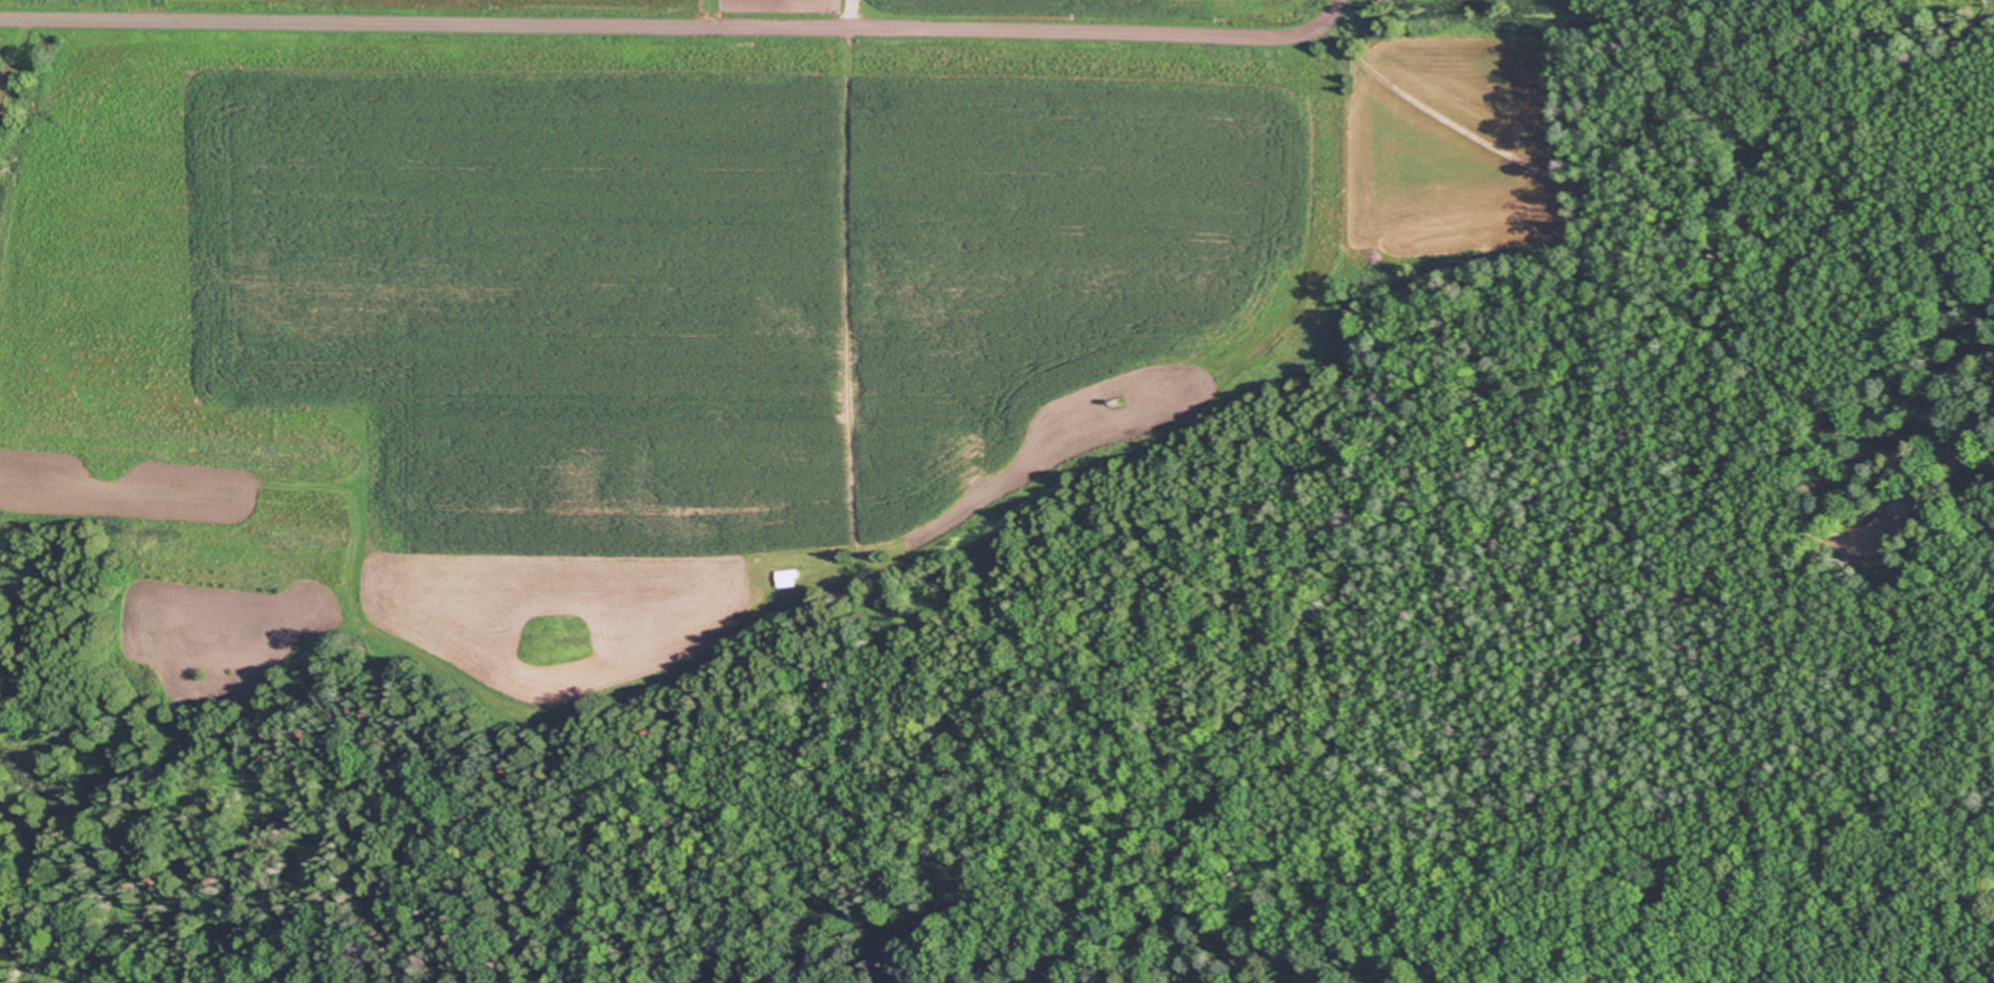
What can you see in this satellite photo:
road: (850, 13)
road: (676, 24)
building: (789, 577)

